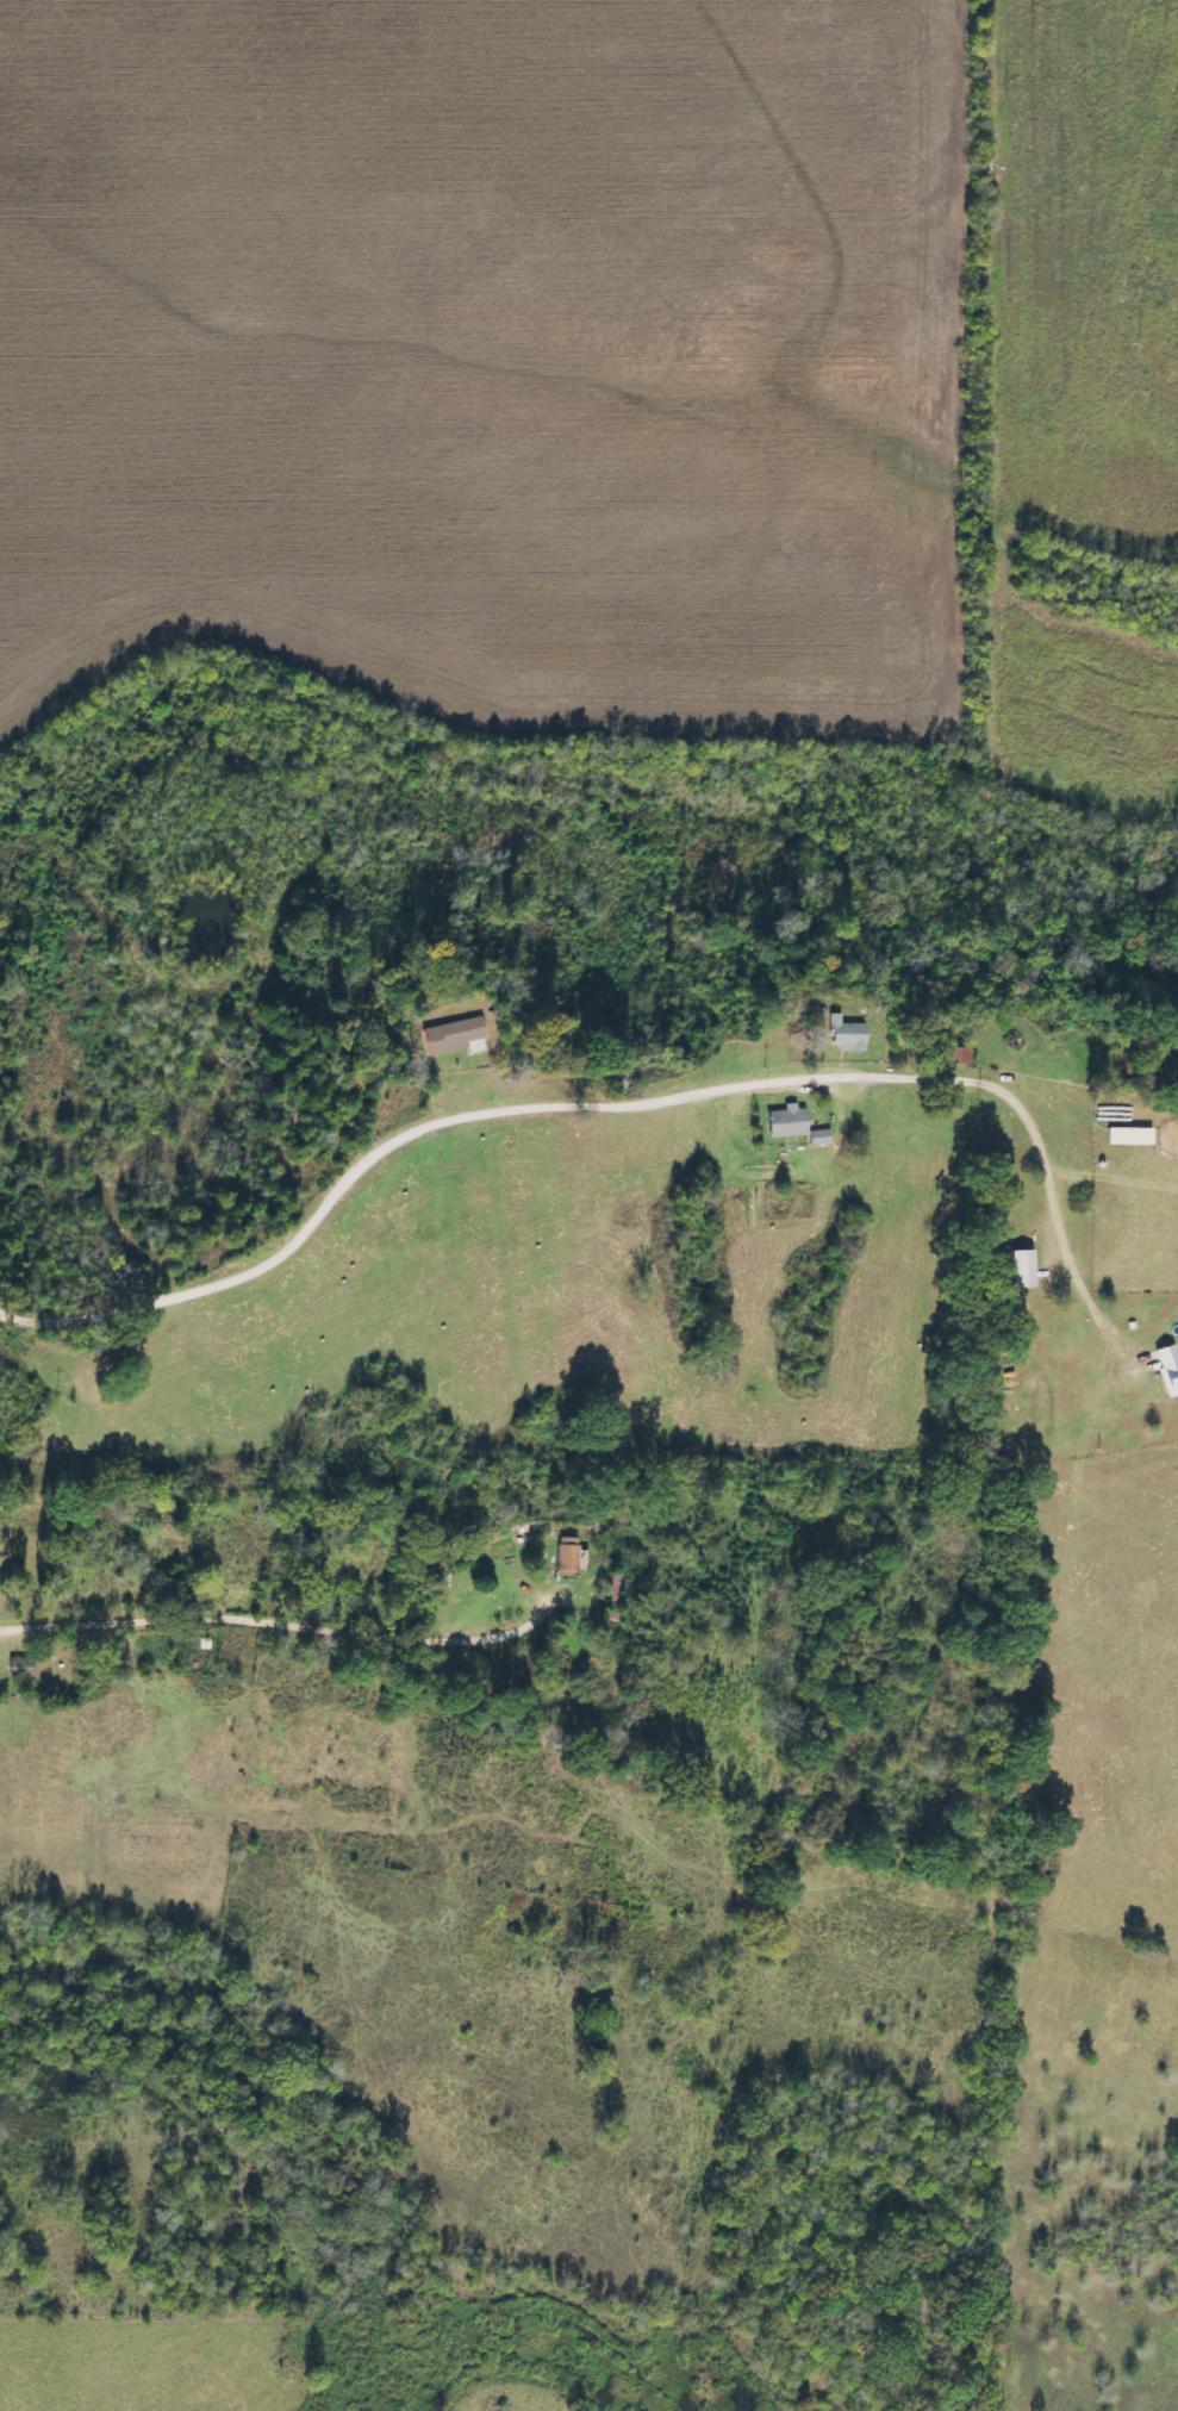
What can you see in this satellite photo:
road: (17, 468)
building: (847, 1033)
building: (454, 1036)
building: (786, 1122)
building: (1130, 1135)
building: (819, 1136)
road: (317, 1222)
building: (1021, 1269)
building: (1167, 1369)
building: (567, 1556)
road: (194, 1581)
road: (275, 1637)

